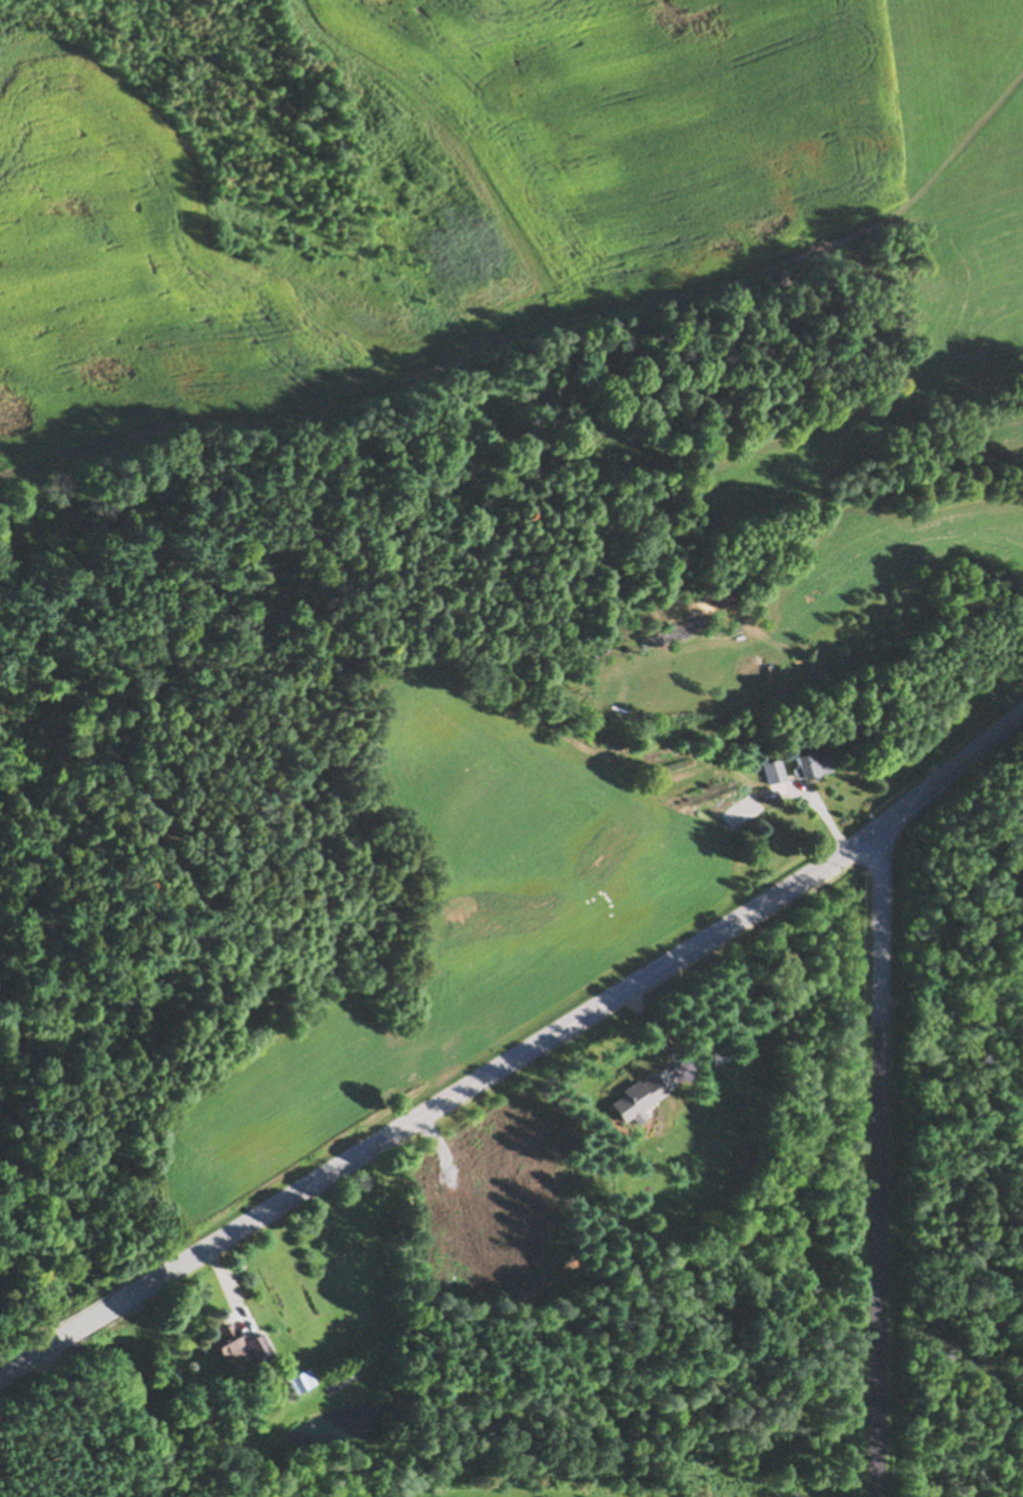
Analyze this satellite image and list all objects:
building: (815, 762)
building: (776, 771)
road: (813, 797)
road: (520, 1046)
building: (721, 1054)
building: (639, 1095)
road: (880, 1157)
building: (228, 1337)
building: (260, 1345)
building: (302, 1379)
road: (77, 1417)

